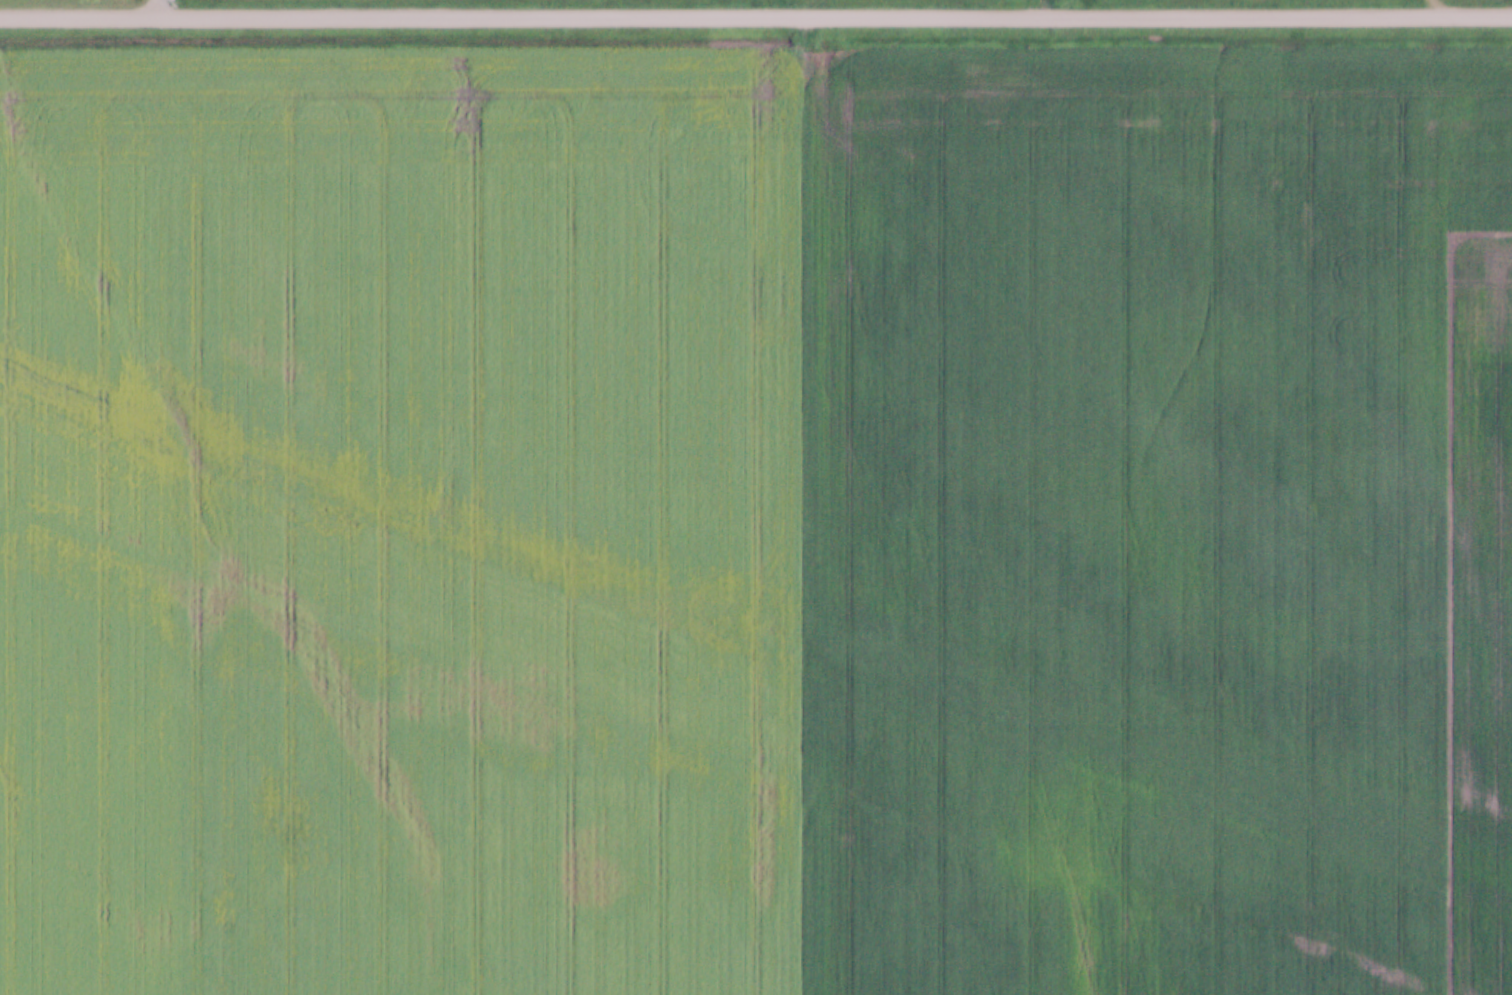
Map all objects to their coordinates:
park: (1450, 128)

